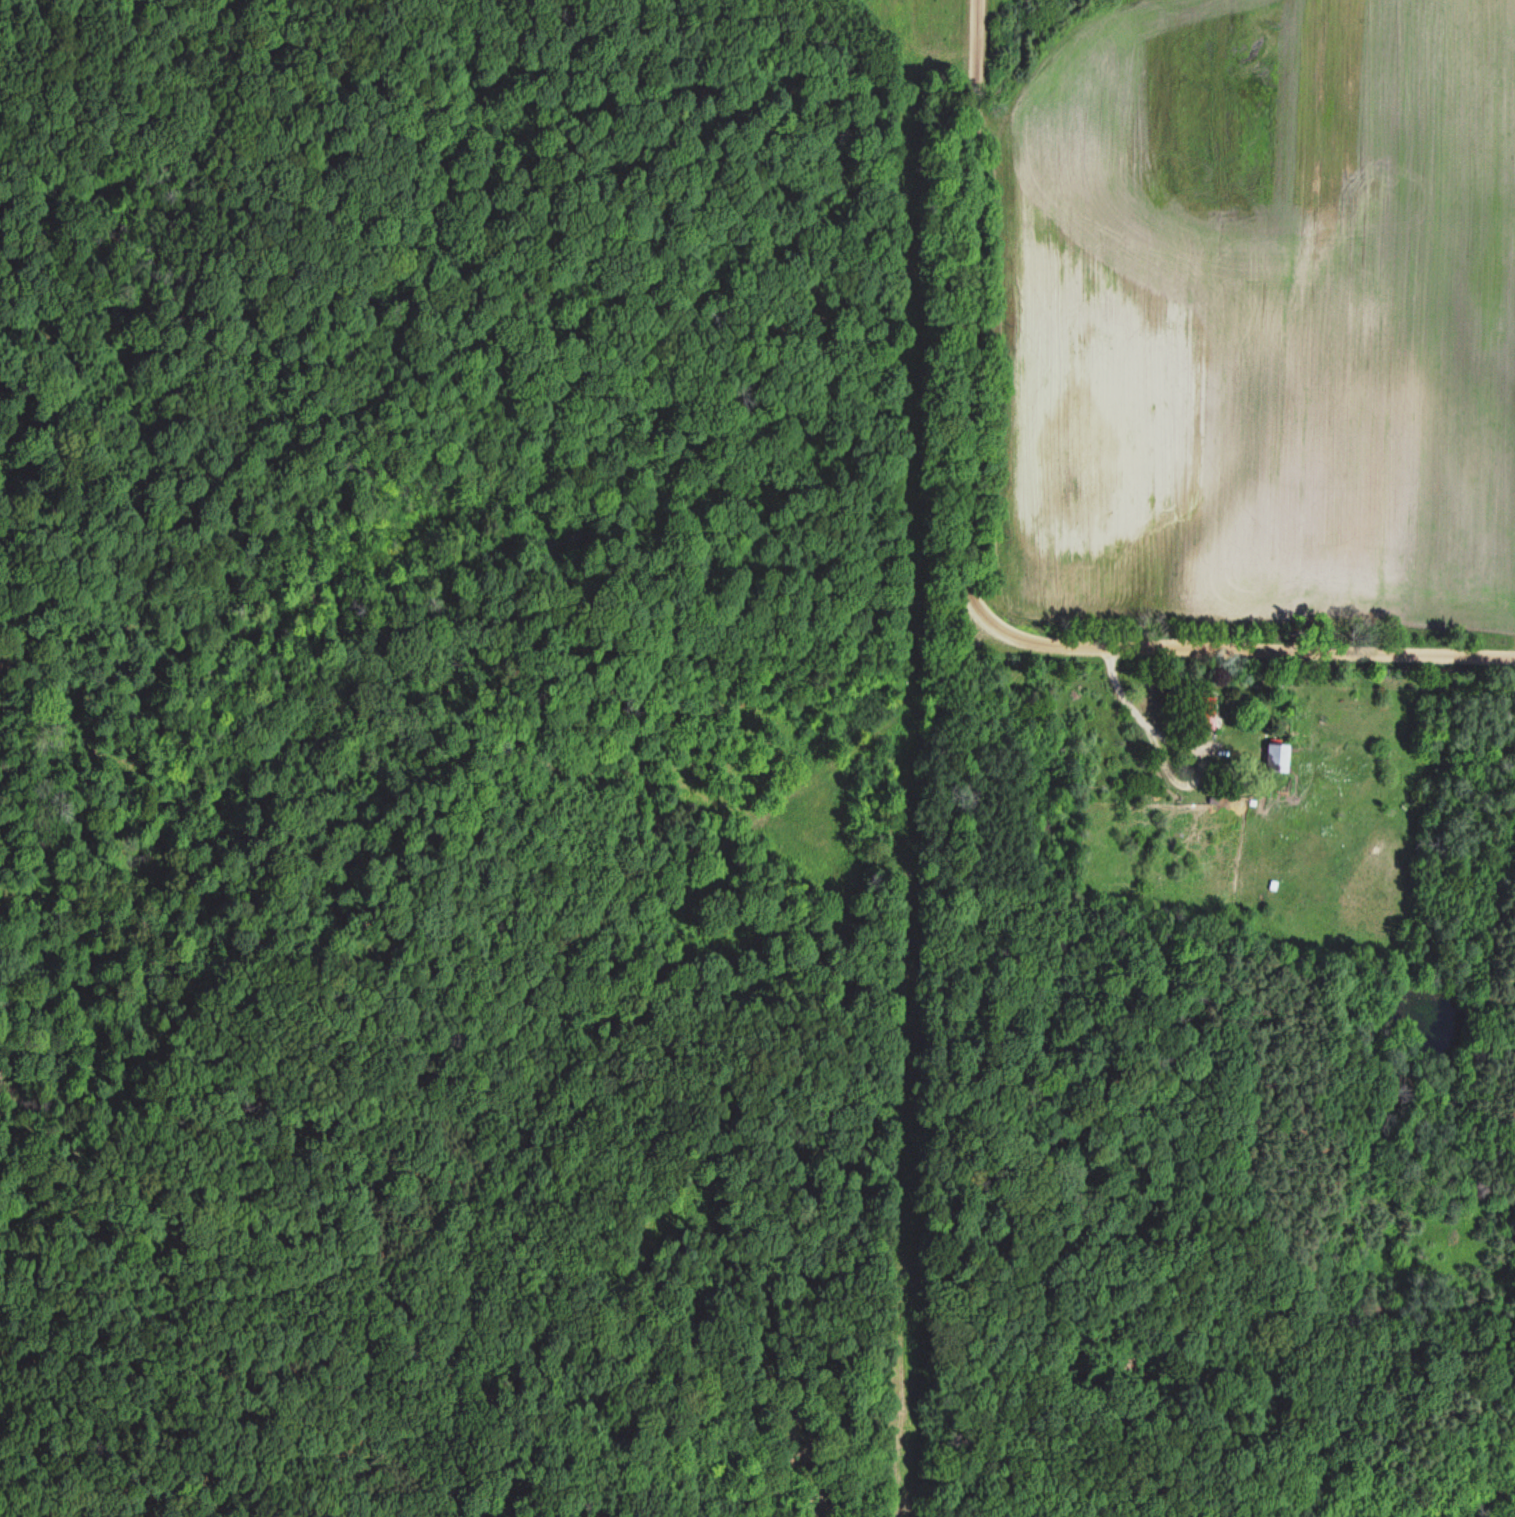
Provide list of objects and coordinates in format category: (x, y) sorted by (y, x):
road: (964, 305)
road: (1238, 636)
building: (1203, 714)
building: (1274, 759)

